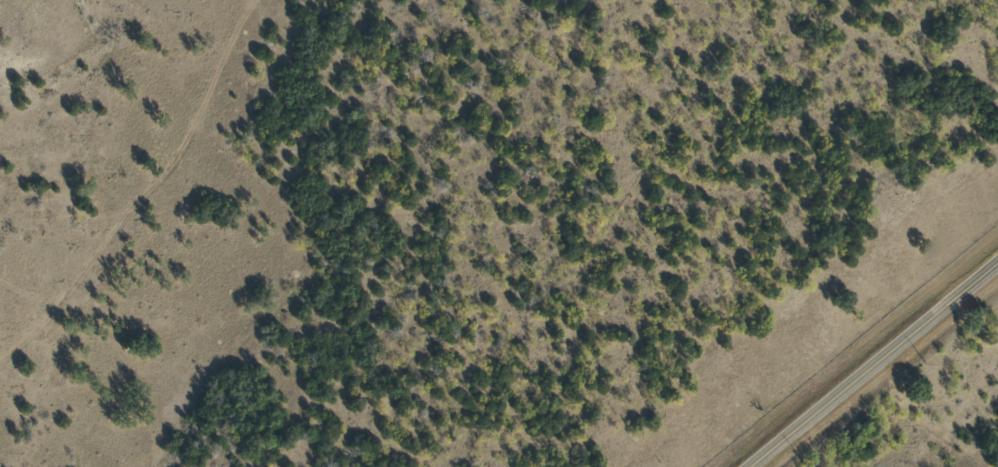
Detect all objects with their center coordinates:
road: (875, 365)

